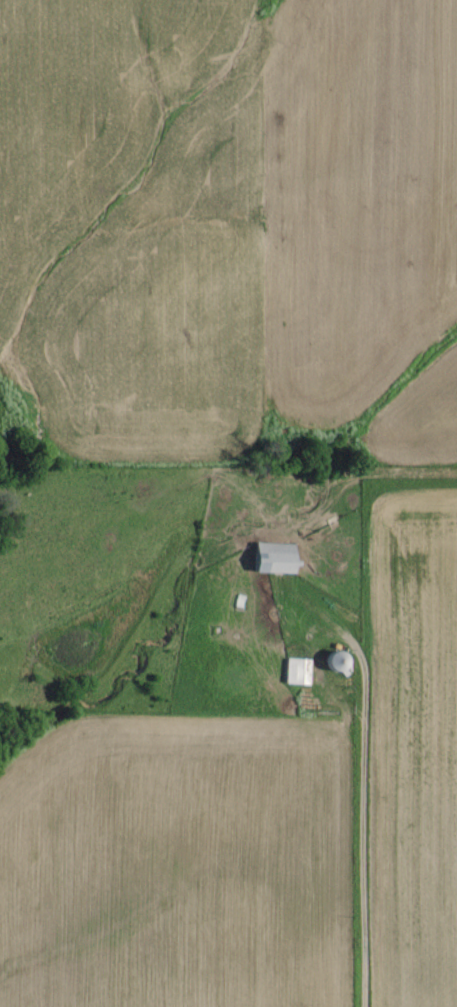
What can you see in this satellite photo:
building: (268, 559)
building: (294, 672)
road: (361, 817)

